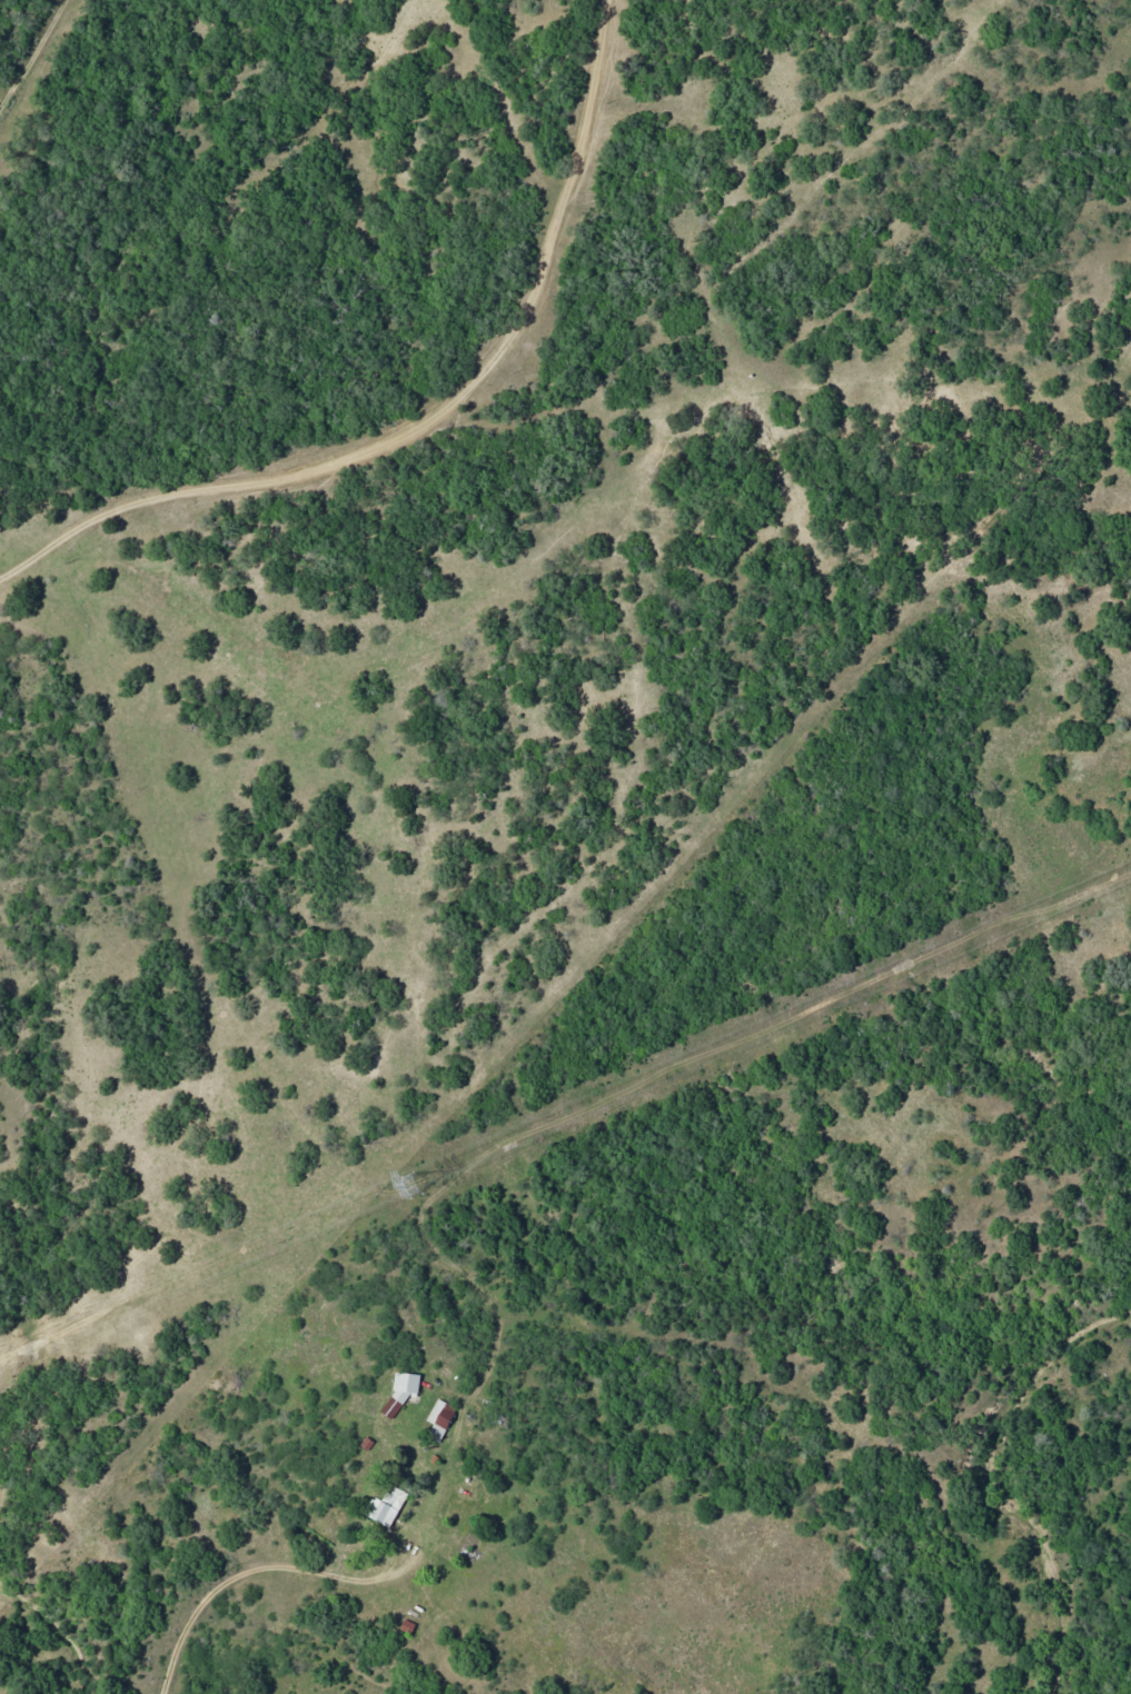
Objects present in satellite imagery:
road: (444, 431)
power tower: (408, 1186)
building: (401, 1391)
building: (439, 1419)
building: (386, 1506)
road: (221, 1562)

